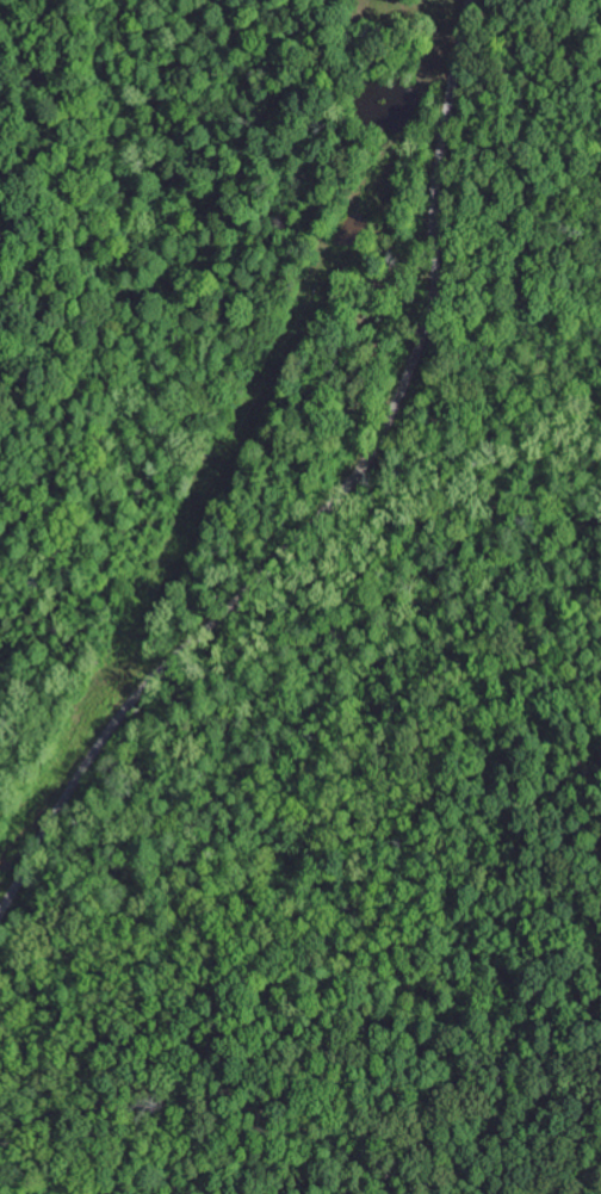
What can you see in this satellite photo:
road: (332, 502)

